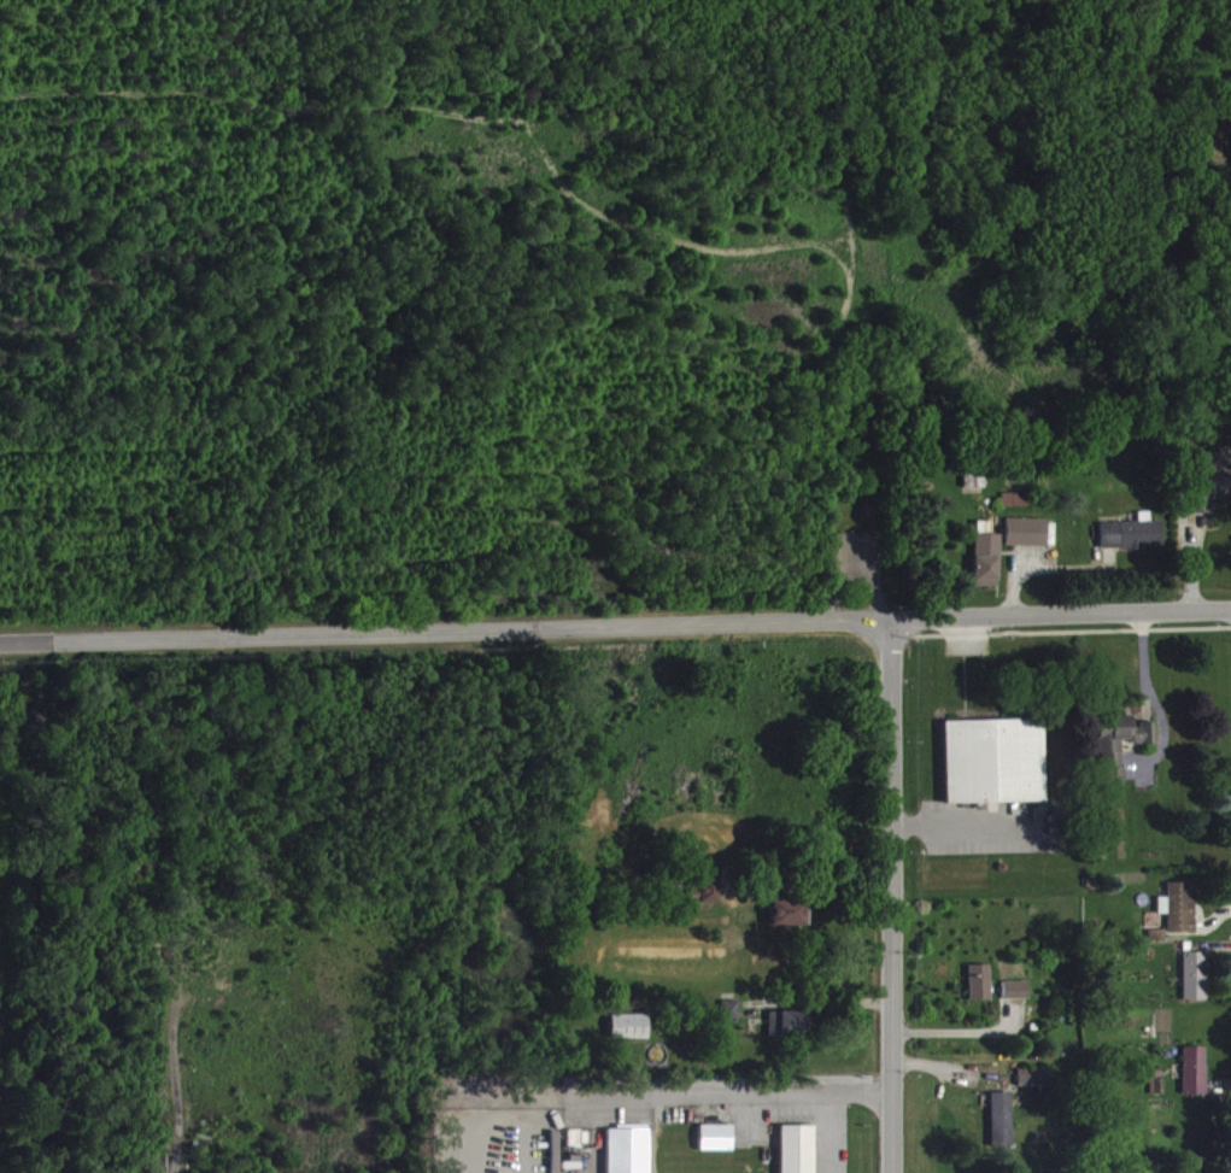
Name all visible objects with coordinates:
building: (975, 485)
building: (1209, 488)
building: (1026, 541)
building: (1132, 542)
building: (987, 569)
road: (1061, 618)
road: (446, 633)
building: (1121, 752)
building: (995, 770)
road: (960, 816)
road: (892, 898)
building: (709, 899)
building: (1179, 916)
building: (786, 922)
building: (1195, 985)
building: (979, 991)
road: (826, 997)
building: (1016, 999)
building: (732, 1019)
building: (790, 1033)
building: (631, 1036)
building: (1195, 1079)
building: (1034, 1086)
road: (728, 1090)
building: (1002, 1128)
building: (716, 1146)
building: (798, 1154)
building: (628, 1155)

